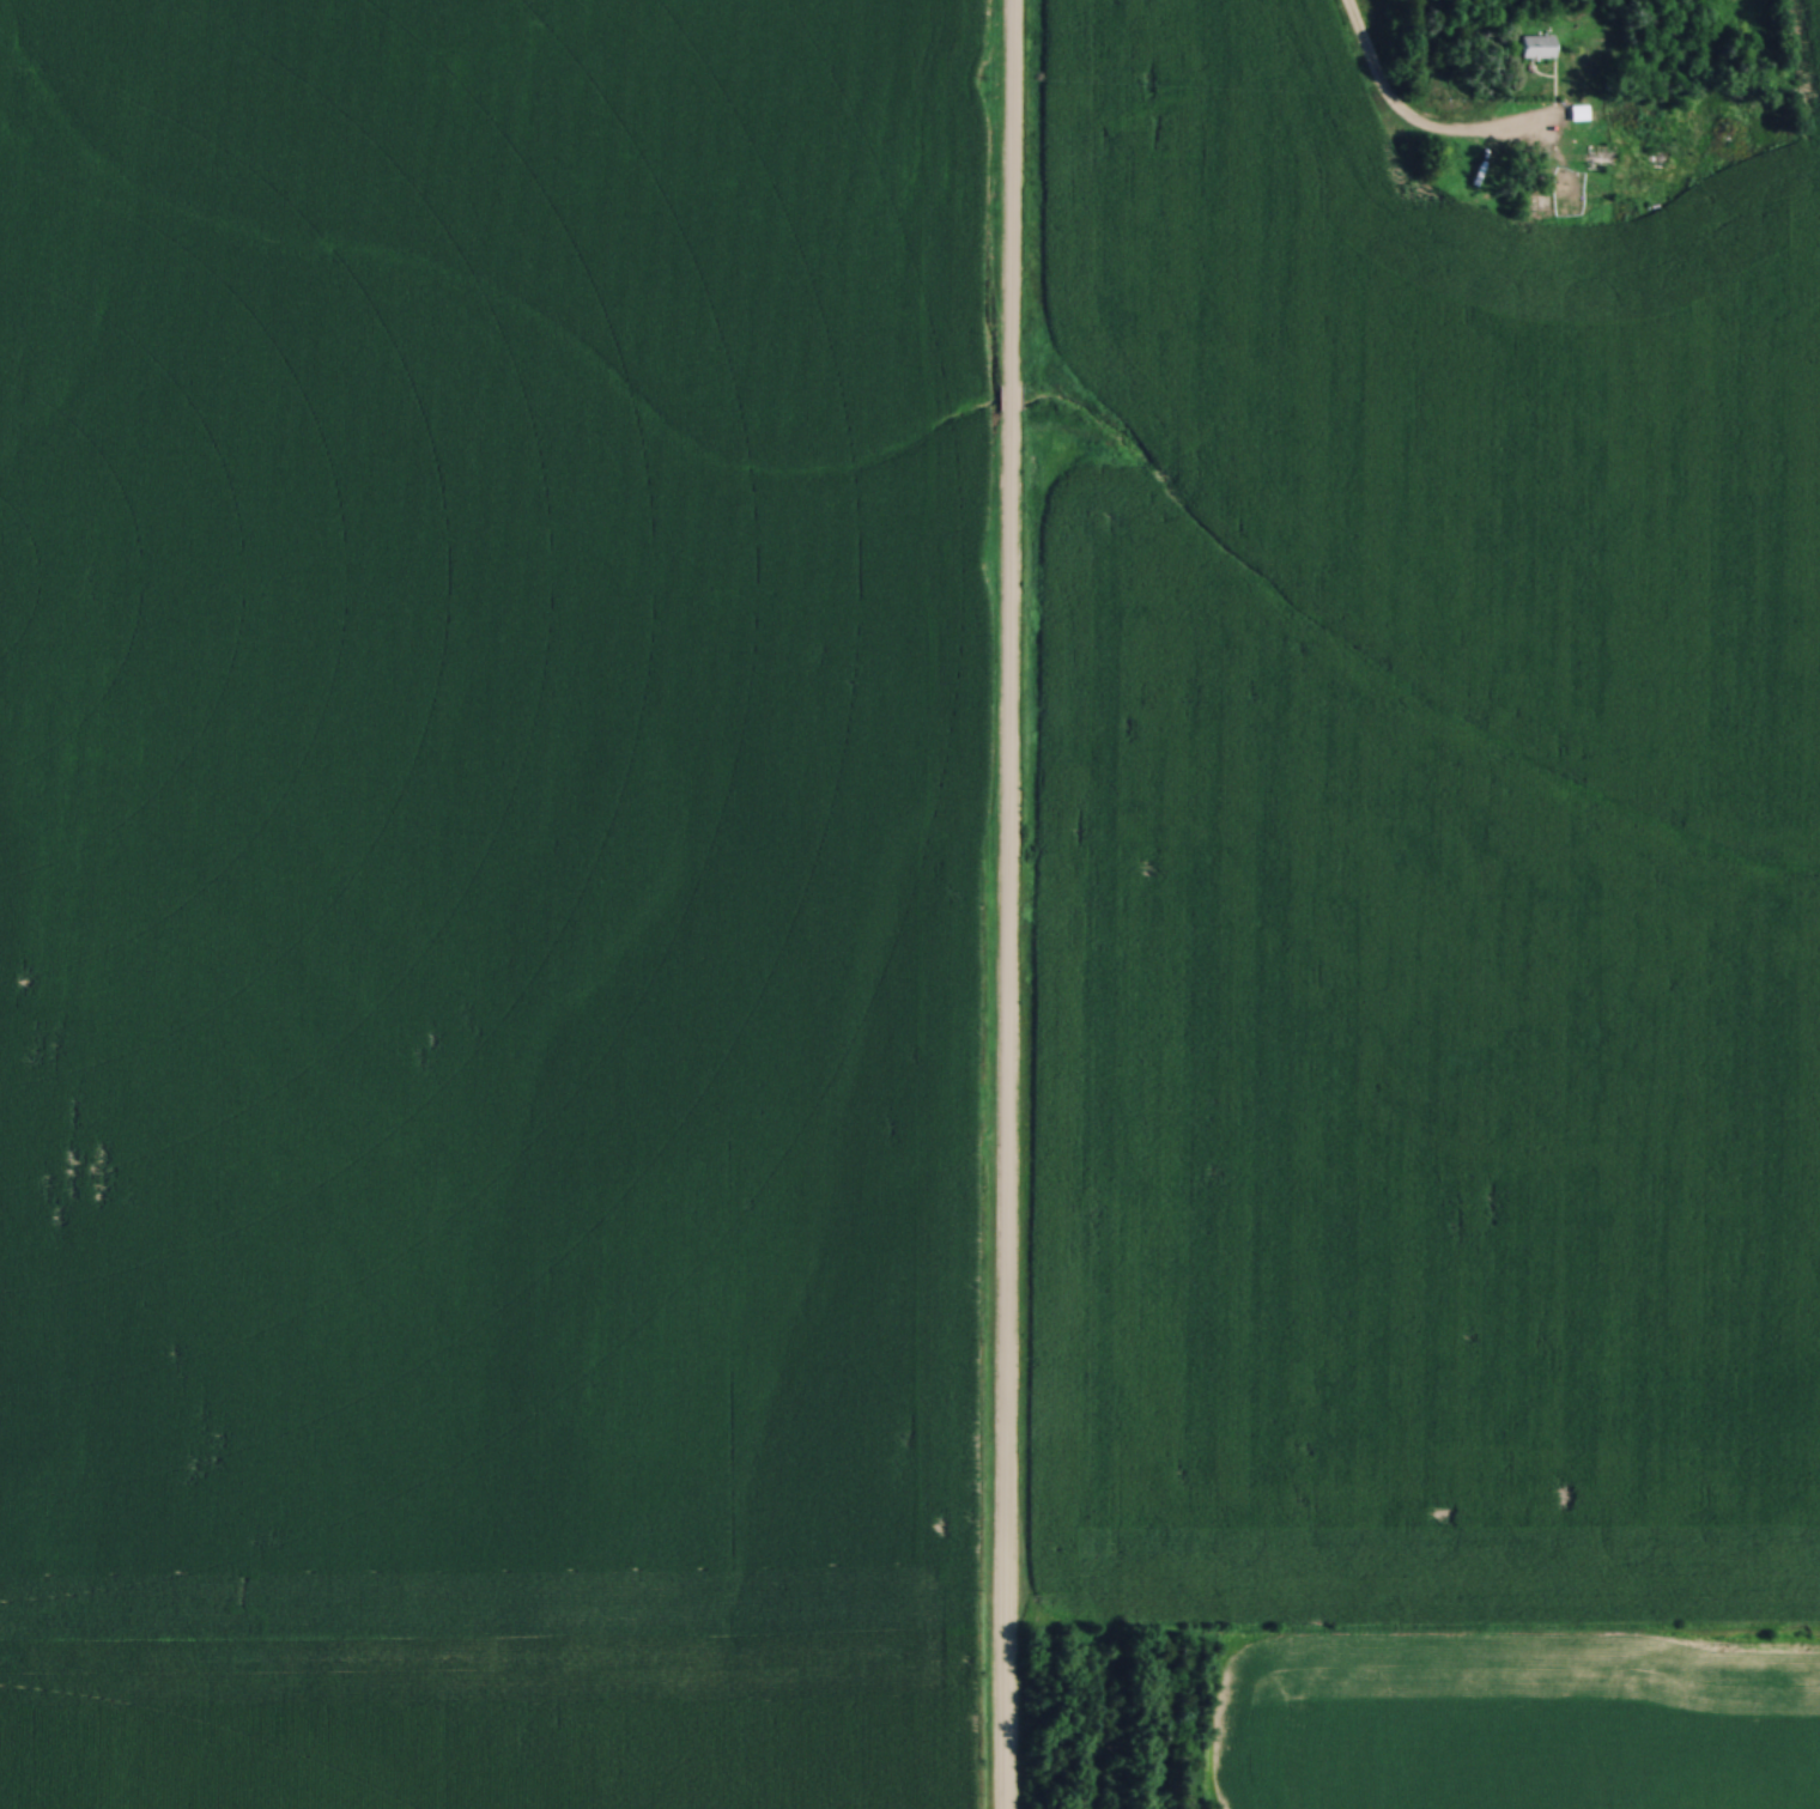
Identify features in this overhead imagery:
building: (1534, 45)
building: (1578, 116)
road: (1399, 117)
building: (1656, 156)
building: (1597, 157)
road: (1009, 193)
road: (1008, 397)
road: (1006, 1110)

